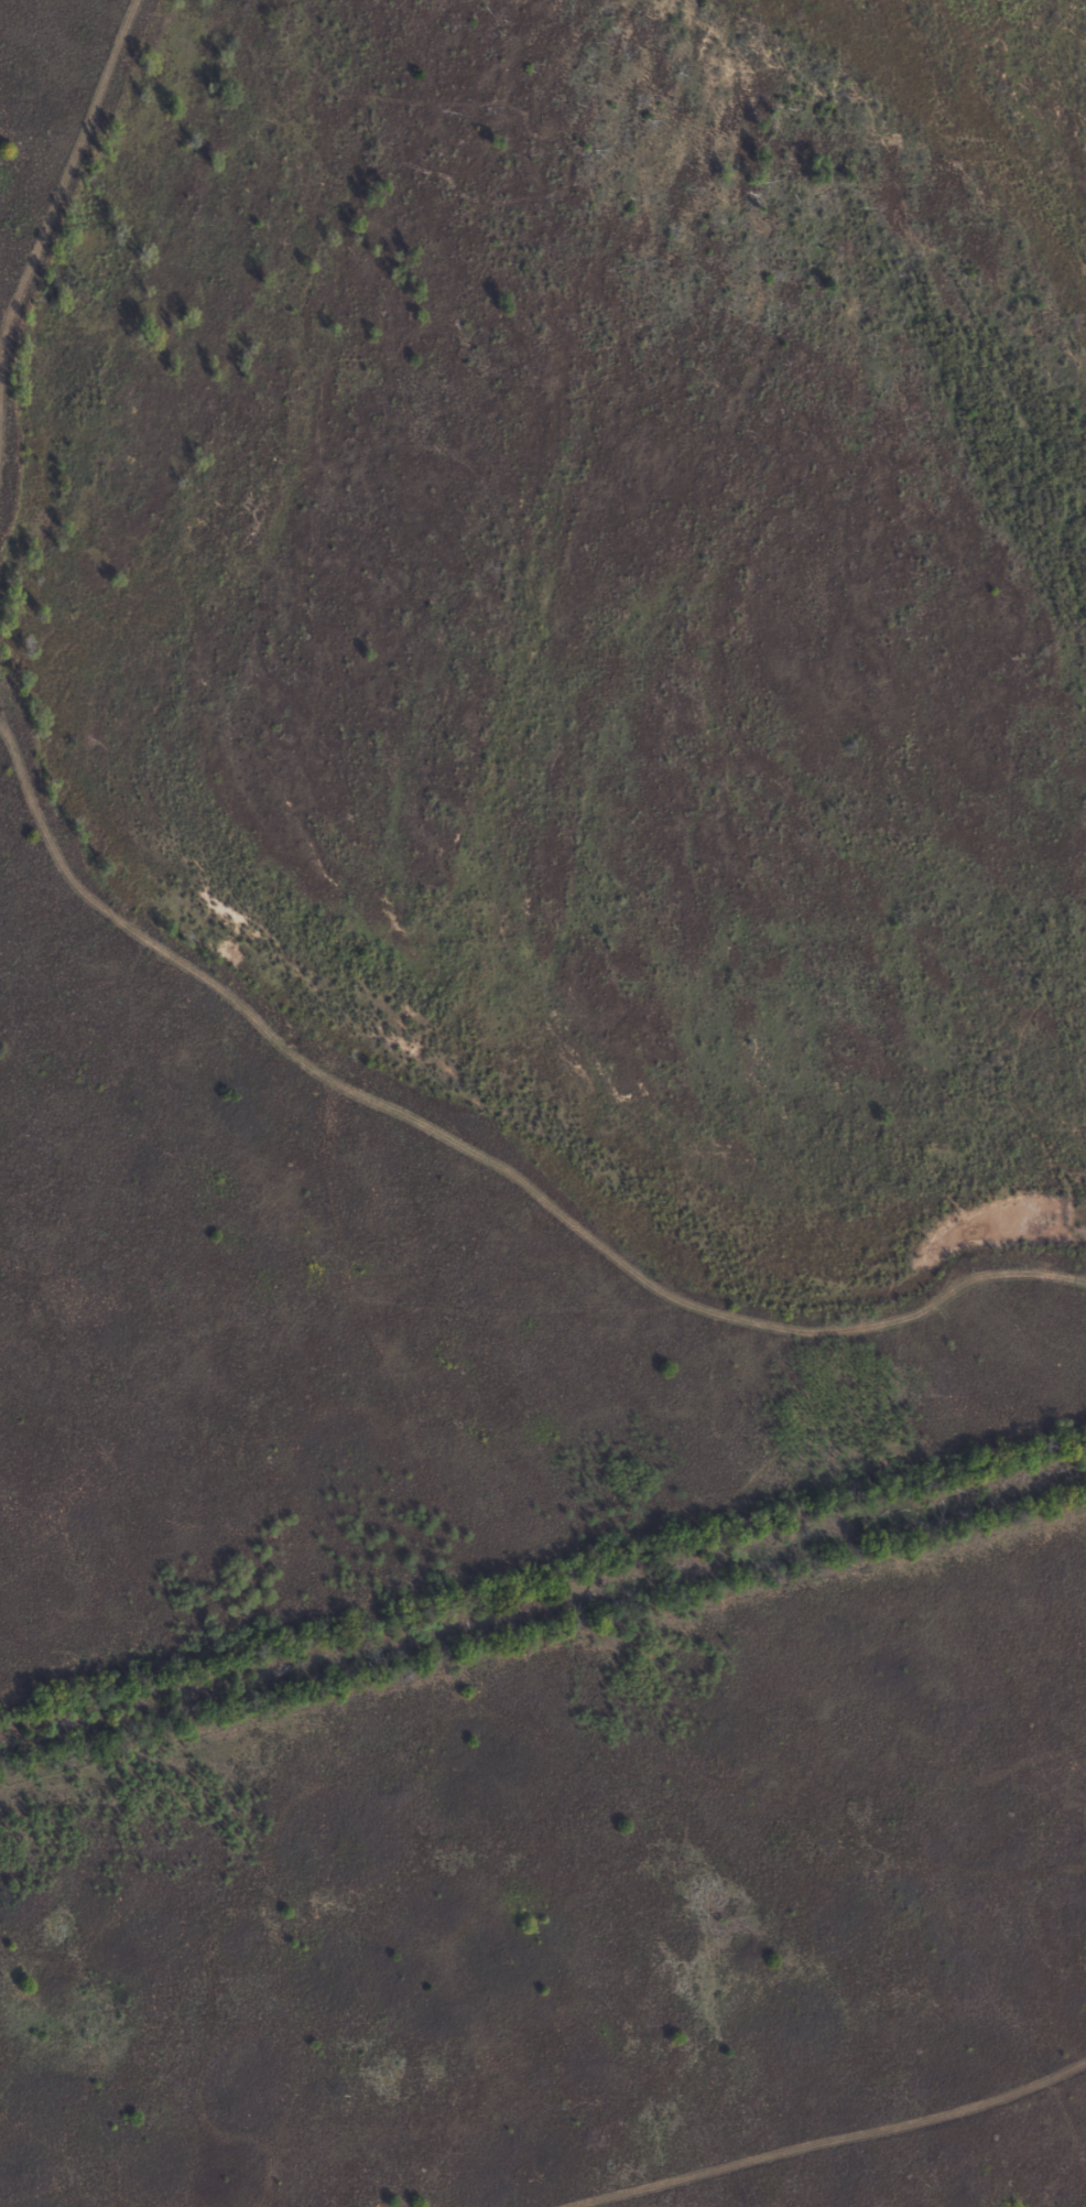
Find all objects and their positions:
road: (66, 167)
road: (482, 1150)

